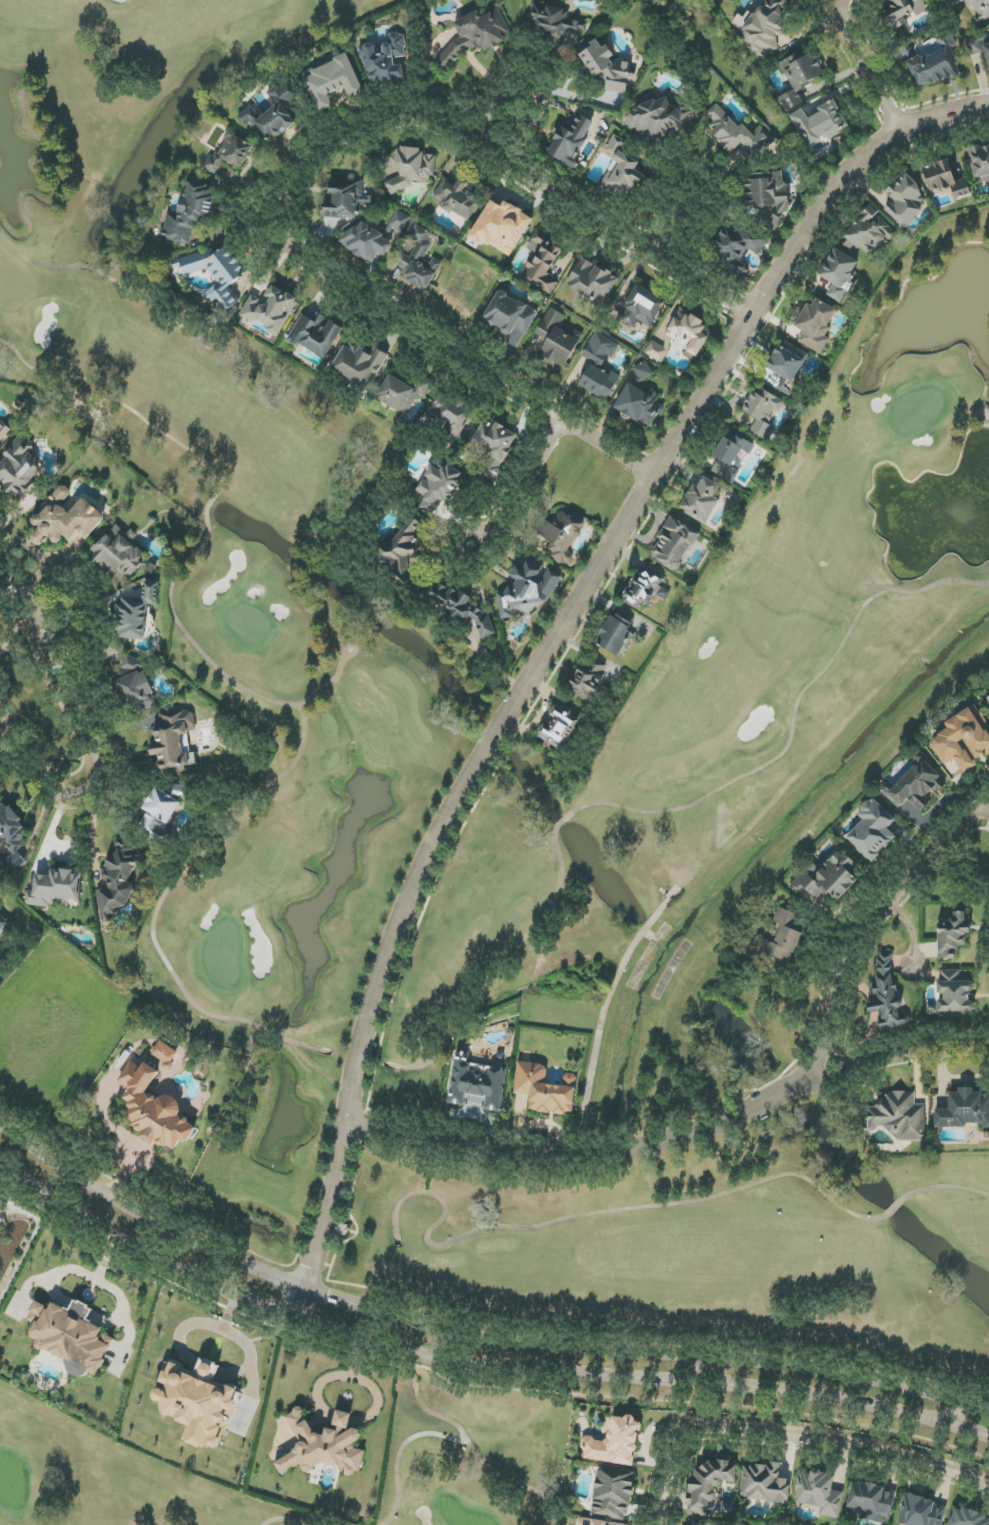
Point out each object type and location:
building: (979, 9)
building: (902, 12)
building: (555, 23)
building: (765, 27)
building: (474, 36)
building: (973, 46)
building: (987, 51)
building: (385, 61)
building: (935, 65)
road: (867, 66)
building: (607, 67)
building: (800, 77)
building: (333, 82)
road: (503, 93)
building: (273, 113)
building: (658, 118)
building: (820, 123)
building: (738, 134)
building: (569, 141)
building: (614, 146)
building: (230, 152)
road: (303, 161)
building: (980, 164)
building: (411, 169)
building: (623, 177)
building: (945, 180)
building: (344, 198)
building: (456, 198)
building: (766, 200)
building: (905, 200)
road: (678, 207)
building: (188, 214)
building: (502, 227)
building: (867, 230)
building: (366, 241)
building: (737, 248)
building: (418, 261)
building: (542, 261)
building: (217, 273)
building: (839, 273)
building: (592, 281)
building: (271, 309)
building: (509, 314)
building: (816, 324)
building: (315, 335)
building: (680, 336)
building: (557, 339)
building: (787, 361)
building: (359, 365)
building: (600, 367)
building: (581, 369)
building: (642, 373)
building: (401, 393)
building: (639, 404)
building: (451, 417)
building: (4, 431)
building: (493, 446)
building: (731, 456)
building: (19, 468)
building: (439, 486)
road: (521, 488)
building: (701, 500)
building: (66, 520)
building: (562, 536)
building: (674, 544)
park: (853, 550)
building: (399, 552)
building: (119, 553)
building: (646, 588)
building: (528, 589)
building: (458, 607)
building: (136, 612)
building: (616, 633)
road: (550, 646)
building: (589, 679)
building: (135, 687)
building: (988, 698)
building: (559, 725)
road: (101, 726)
building: (964, 739)
building: (174, 740)
building: (916, 787)
building: (158, 815)
building: (10, 830)
building: (872, 830)
building: (118, 879)
building: (56, 888)
road: (875, 932)
building: (782, 935)
building: (953, 935)
road: (915, 944)
building: (0, 952)
building: (954, 993)
building: (886, 994)
road: (602, 1017)
building: (170, 1057)
road: (912, 1057)
building: (478, 1084)
building: (545, 1089)
building: (154, 1109)
building: (964, 1109)
building: (899, 1117)
road: (110, 1125)
road: (599, 1155)
road: (79, 1271)
park: (653, 1286)
road: (123, 1308)
road: (82, 1310)
road: (198, 1323)
building: (70, 1335)
road: (474, 1336)
road: (251, 1355)
road: (475, 1366)
road: (209, 1368)
road: (712, 1369)
building: (198, 1402)
road: (961, 1420)
road: (789, 1437)
building: (615, 1443)
building: (323, 1445)
park: (111, 1479)
building: (764, 1483)
building: (708, 1484)
building: (819, 1492)
building: (612, 1493)
building: (871, 1502)
building: (921, 1511)
building: (967, 1518)
building: (600, 1522)

